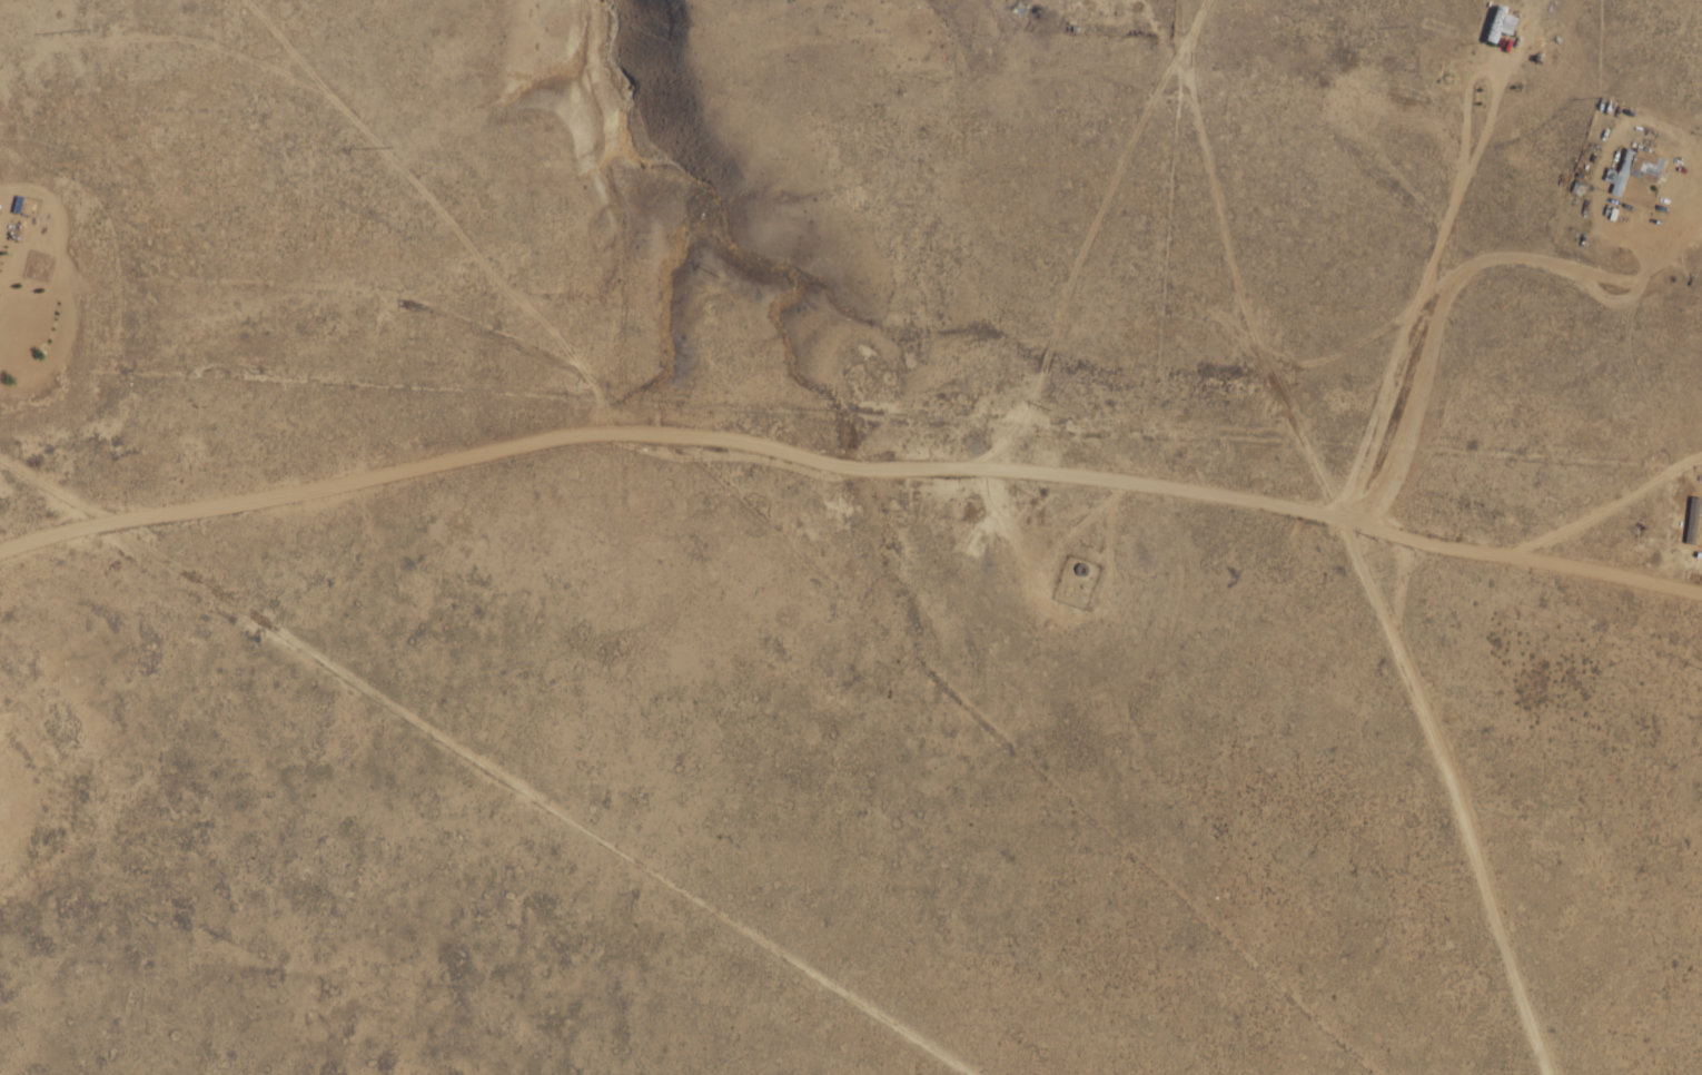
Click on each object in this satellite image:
building: (1501, 23)
building: (1636, 168)
road: (1159, 287)
road: (1471, 355)
road: (833, 505)
road: (1300, 631)
road: (398, 710)

